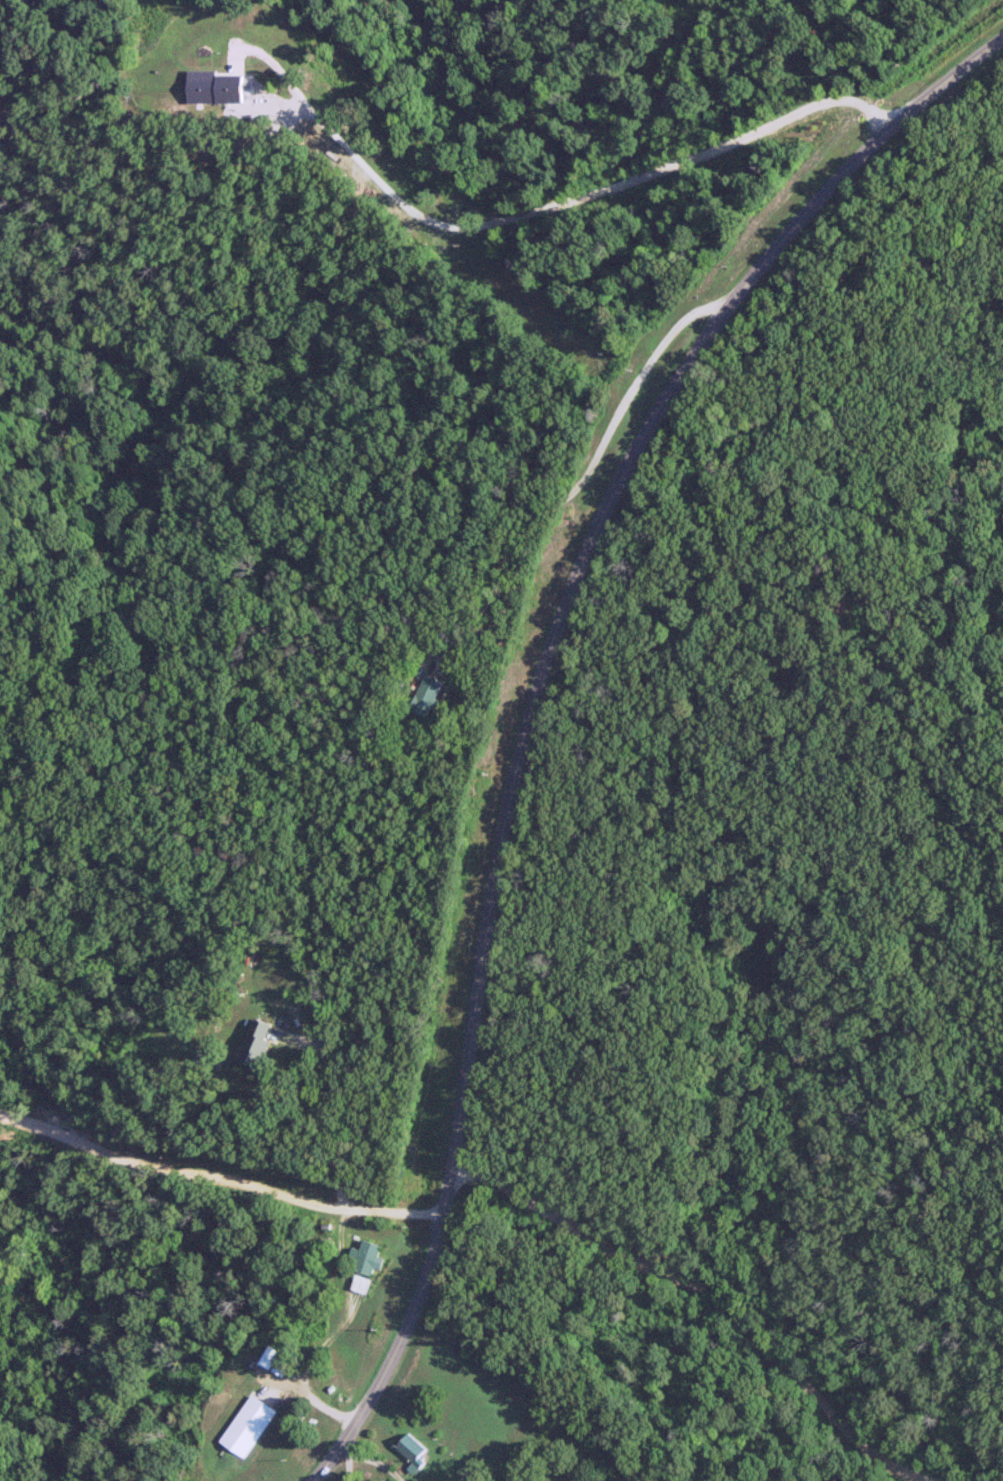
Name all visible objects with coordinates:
road: (532, 207)
road: (583, 480)
building: (426, 695)
road: (533, 696)
building: (255, 1042)
road: (328, 1108)
road: (472, 1170)
road: (217, 1175)
building: (363, 1257)
building: (359, 1283)
road: (748, 1324)
road: (331, 1331)
building: (246, 1425)

